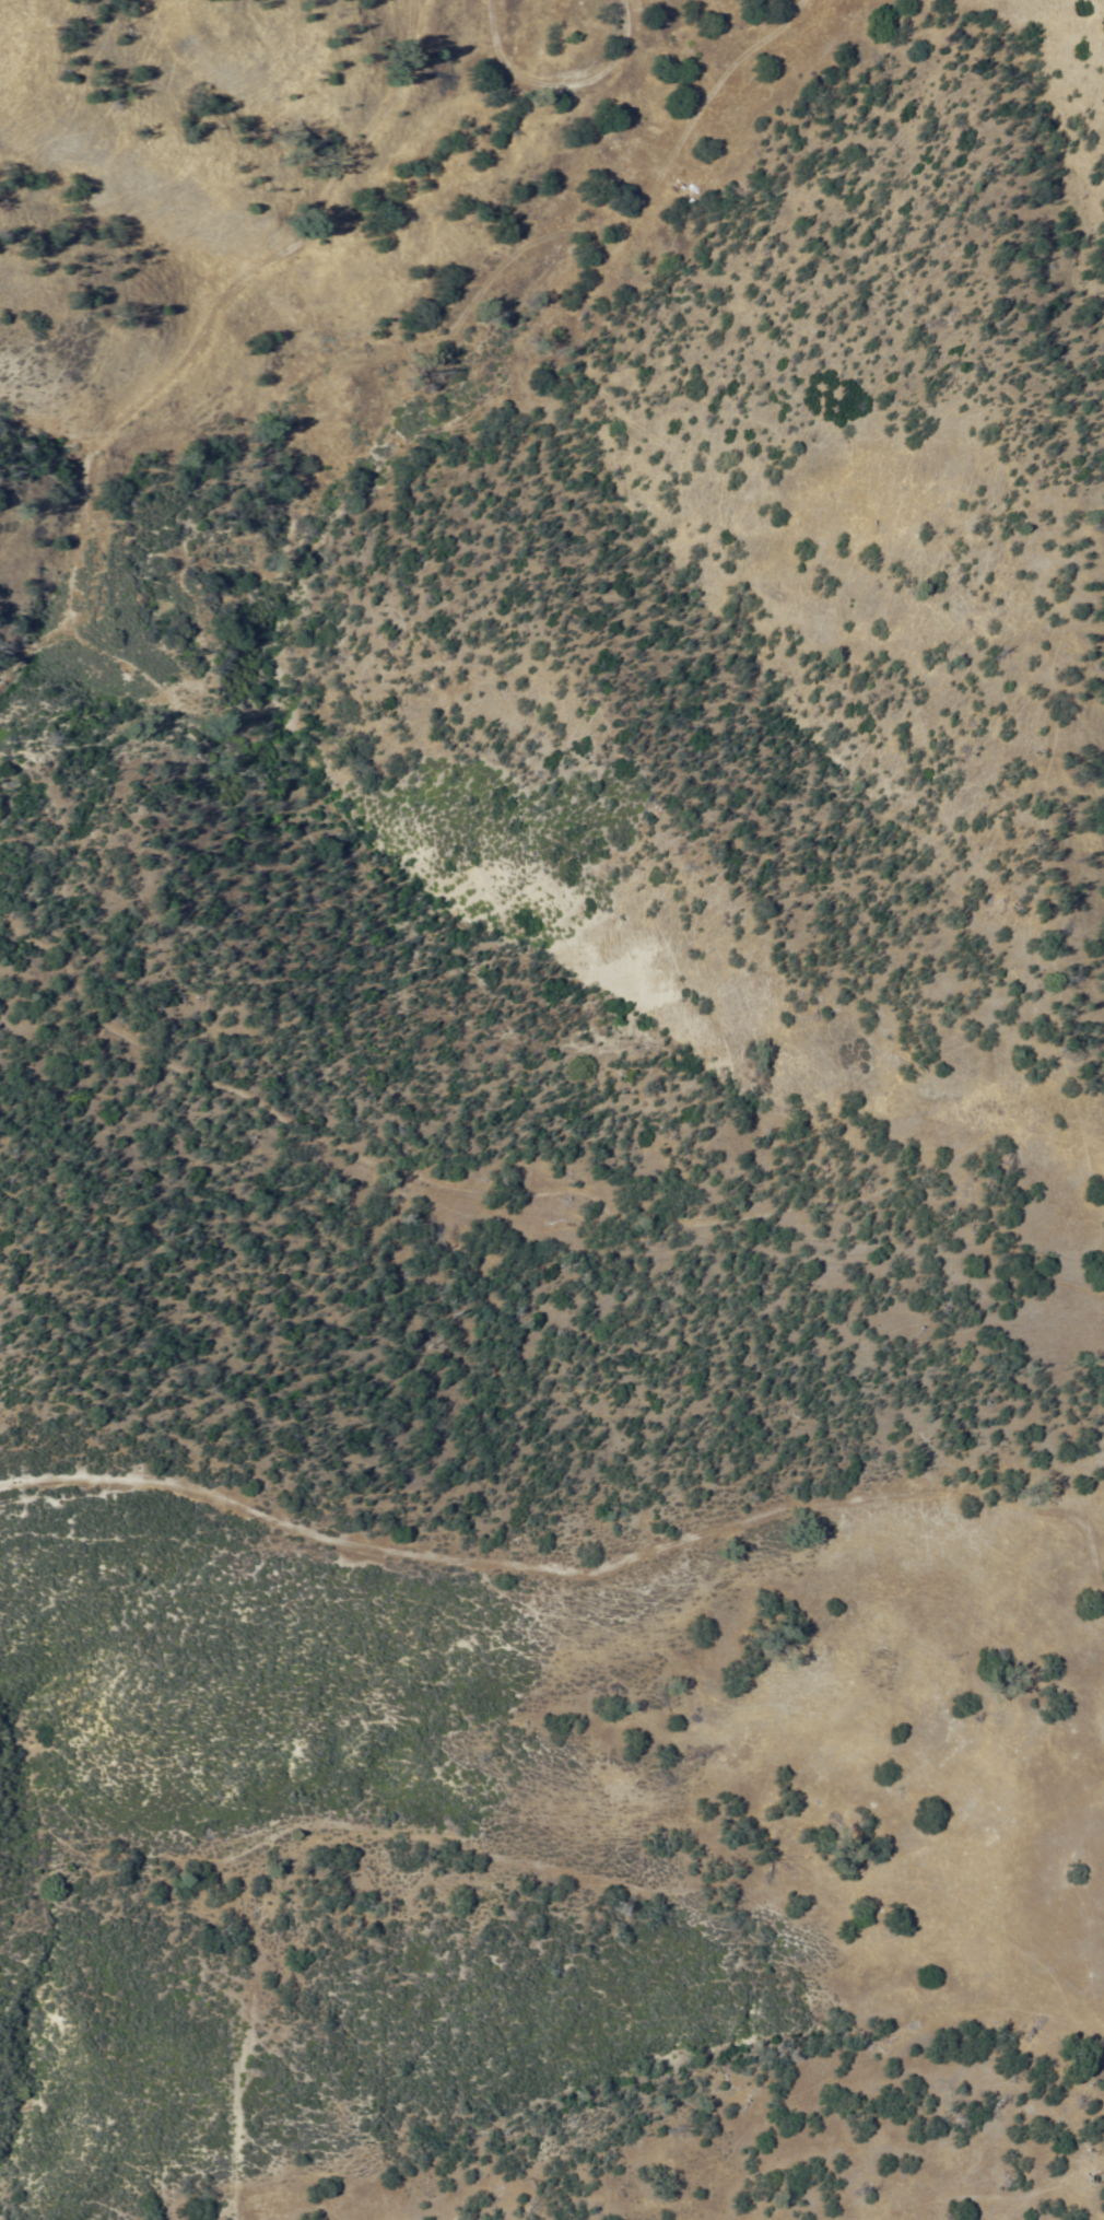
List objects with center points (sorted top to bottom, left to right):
road: (550, 1606)

